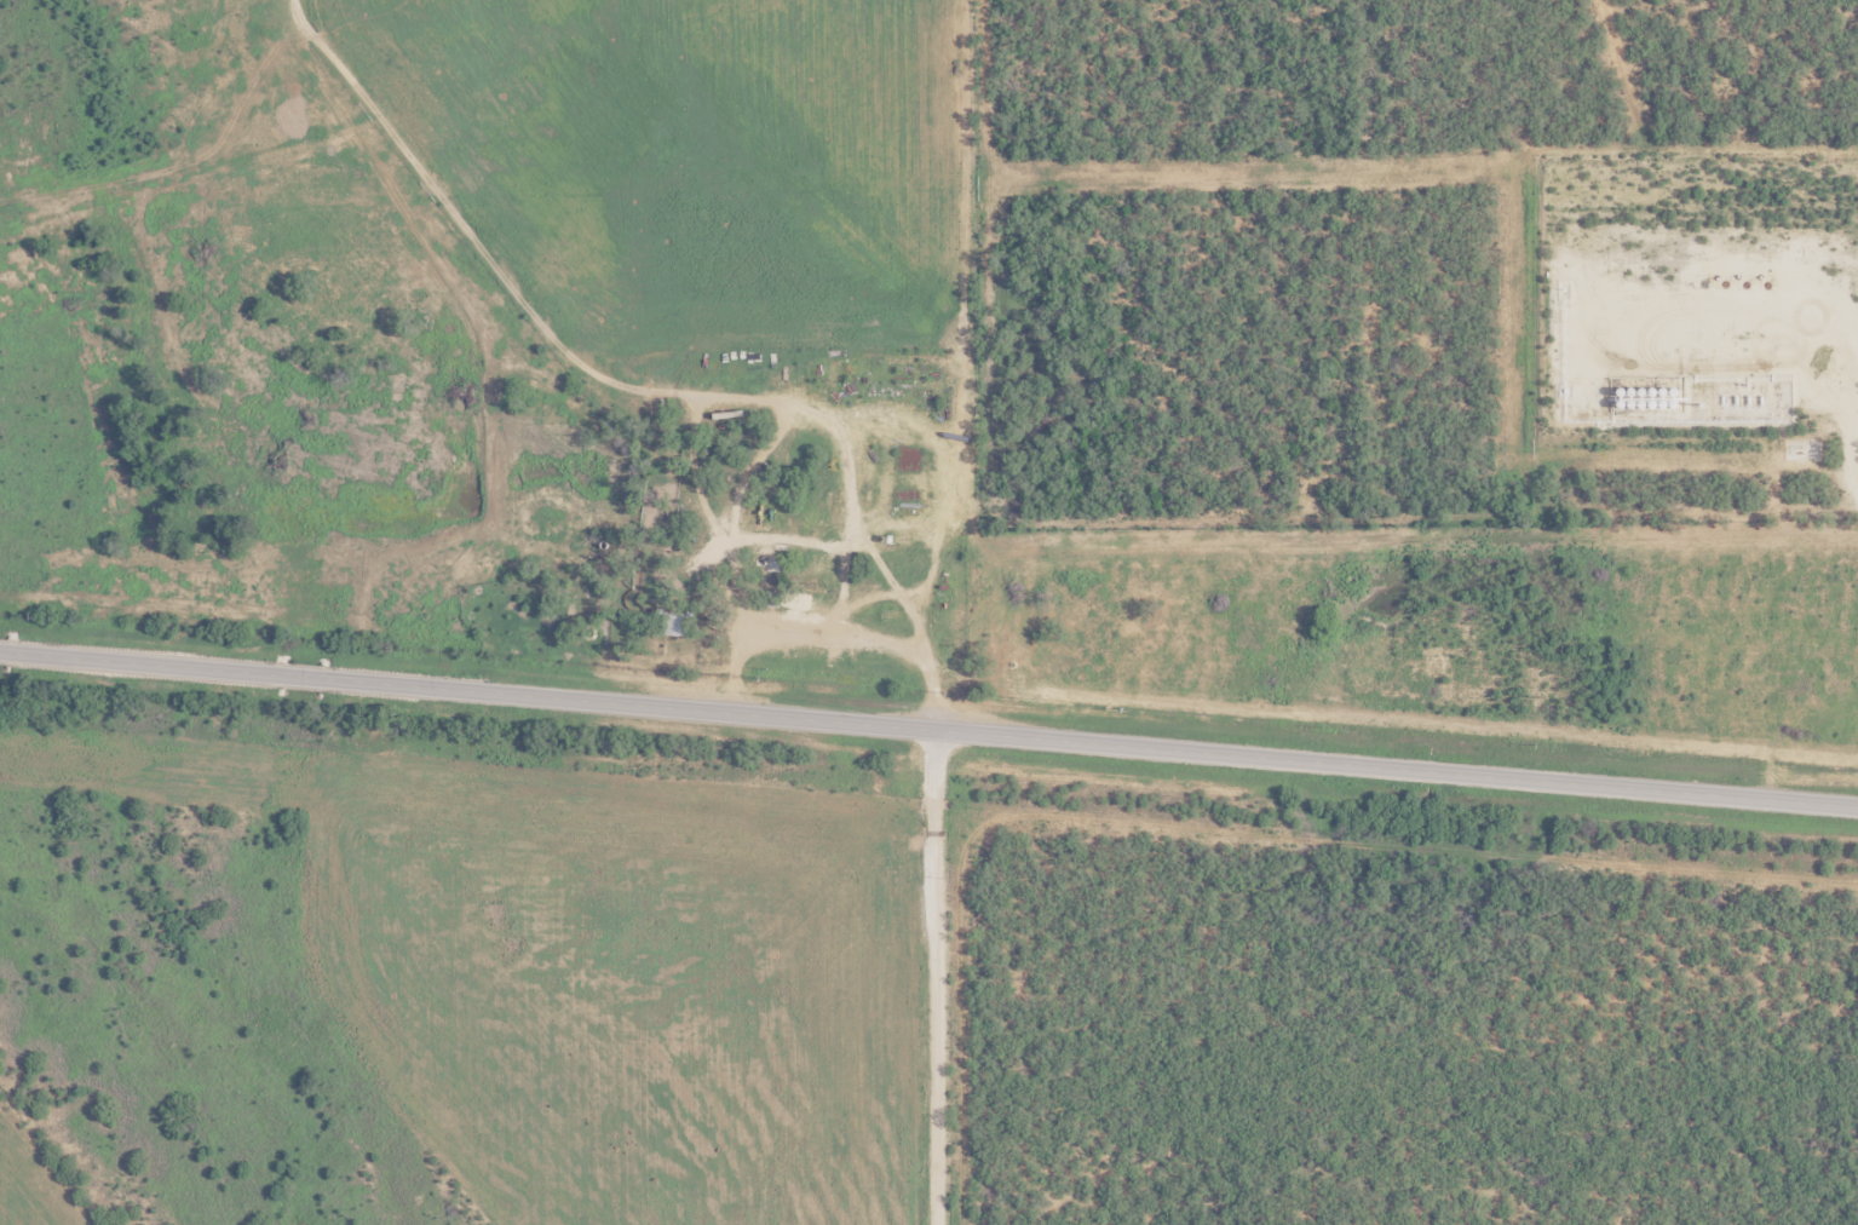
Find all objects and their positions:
building: (767, 512)
building: (765, 569)
road: (928, 729)

